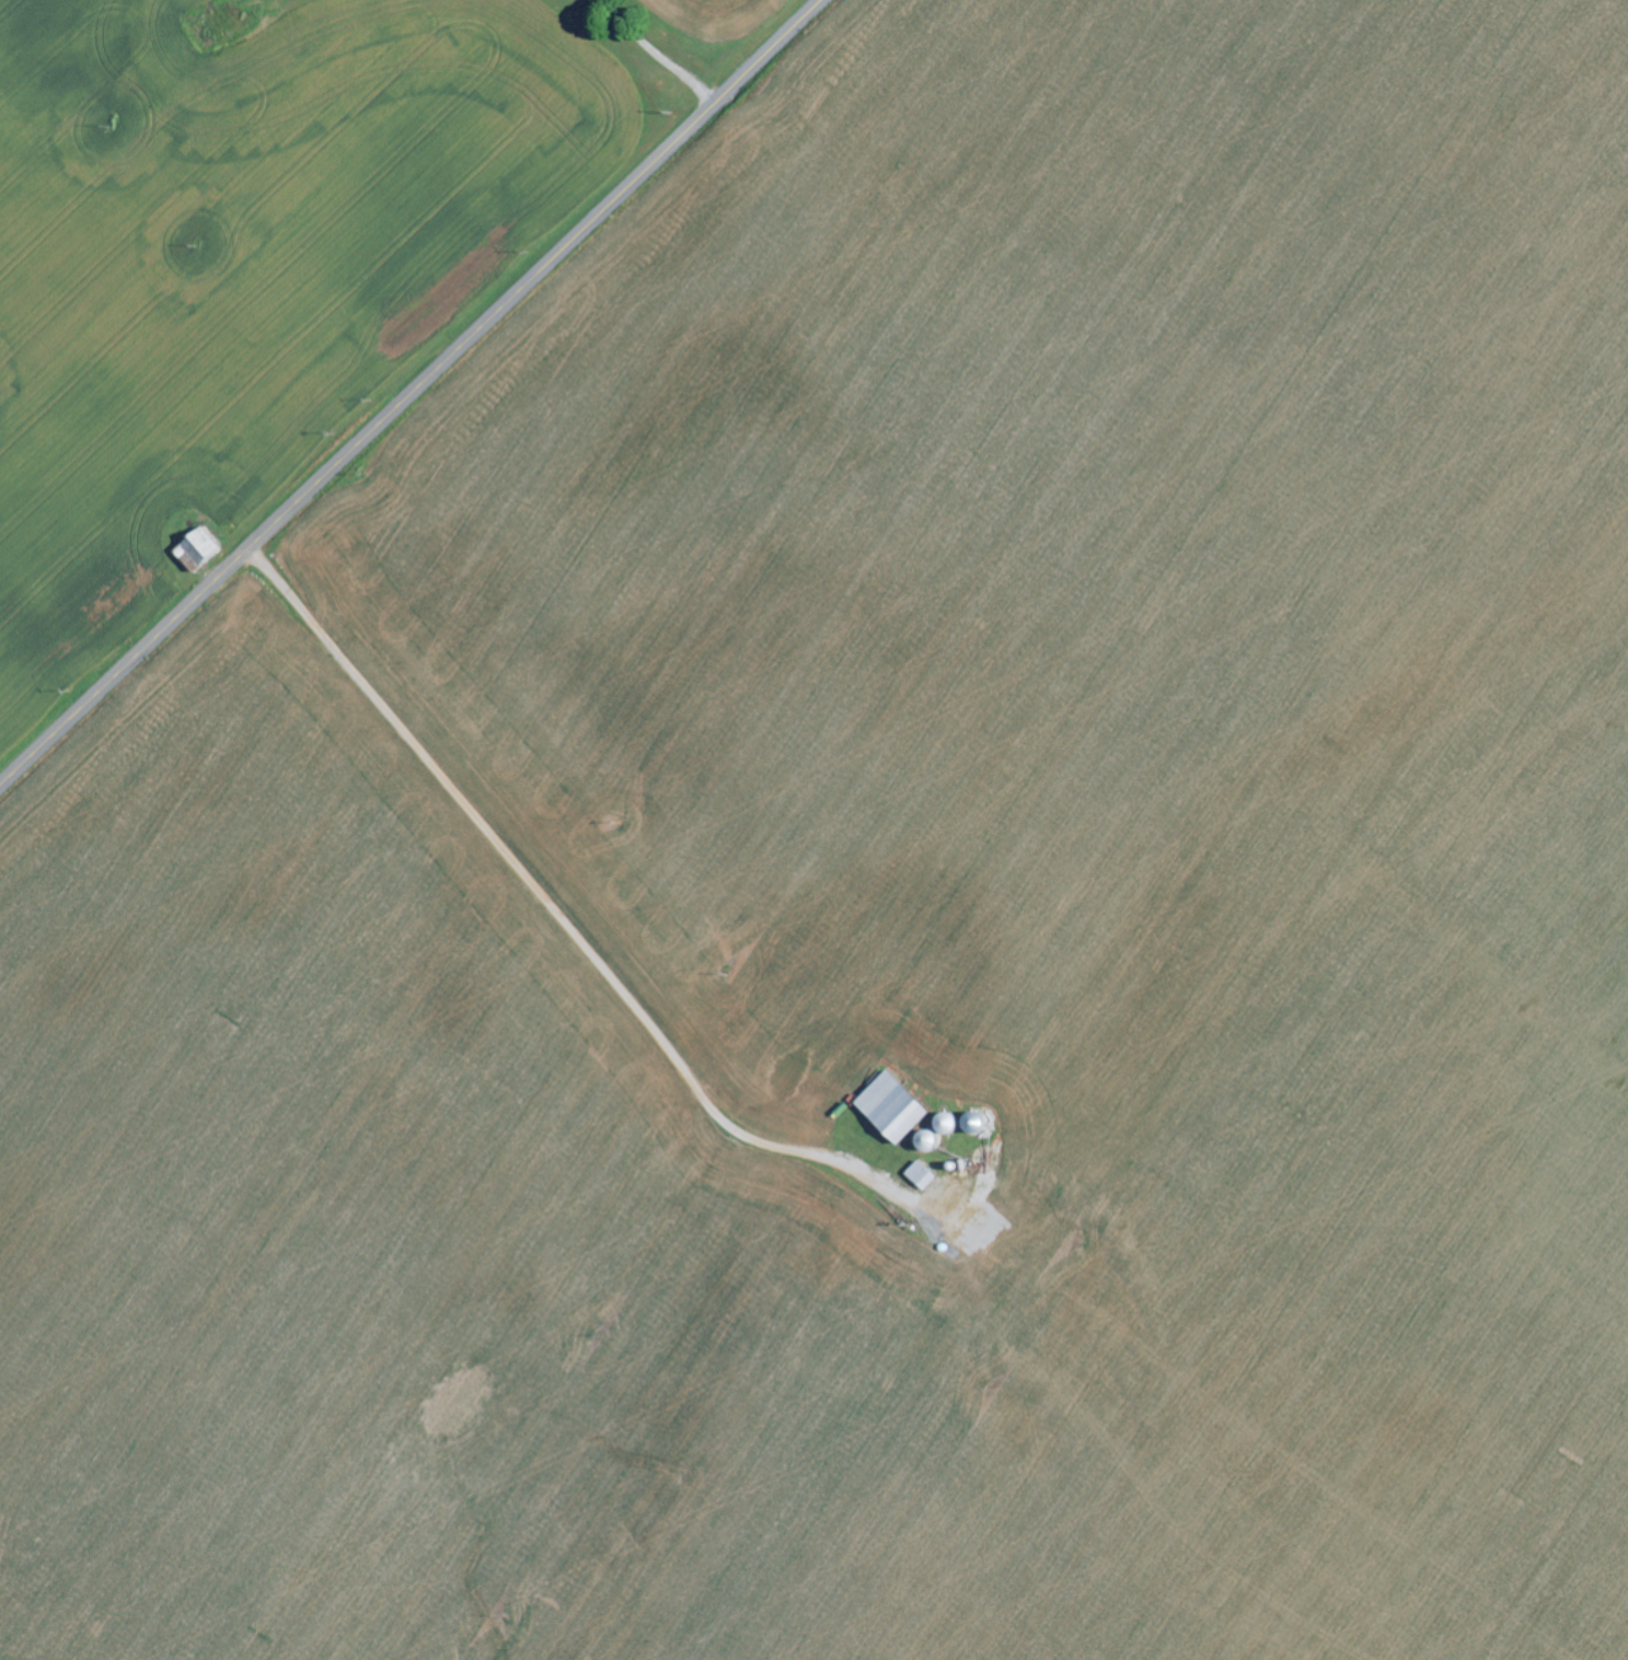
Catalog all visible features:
road: (612, 51)
road: (411, 393)
building: (199, 549)
building: (897, 1107)
building: (925, 1175)

